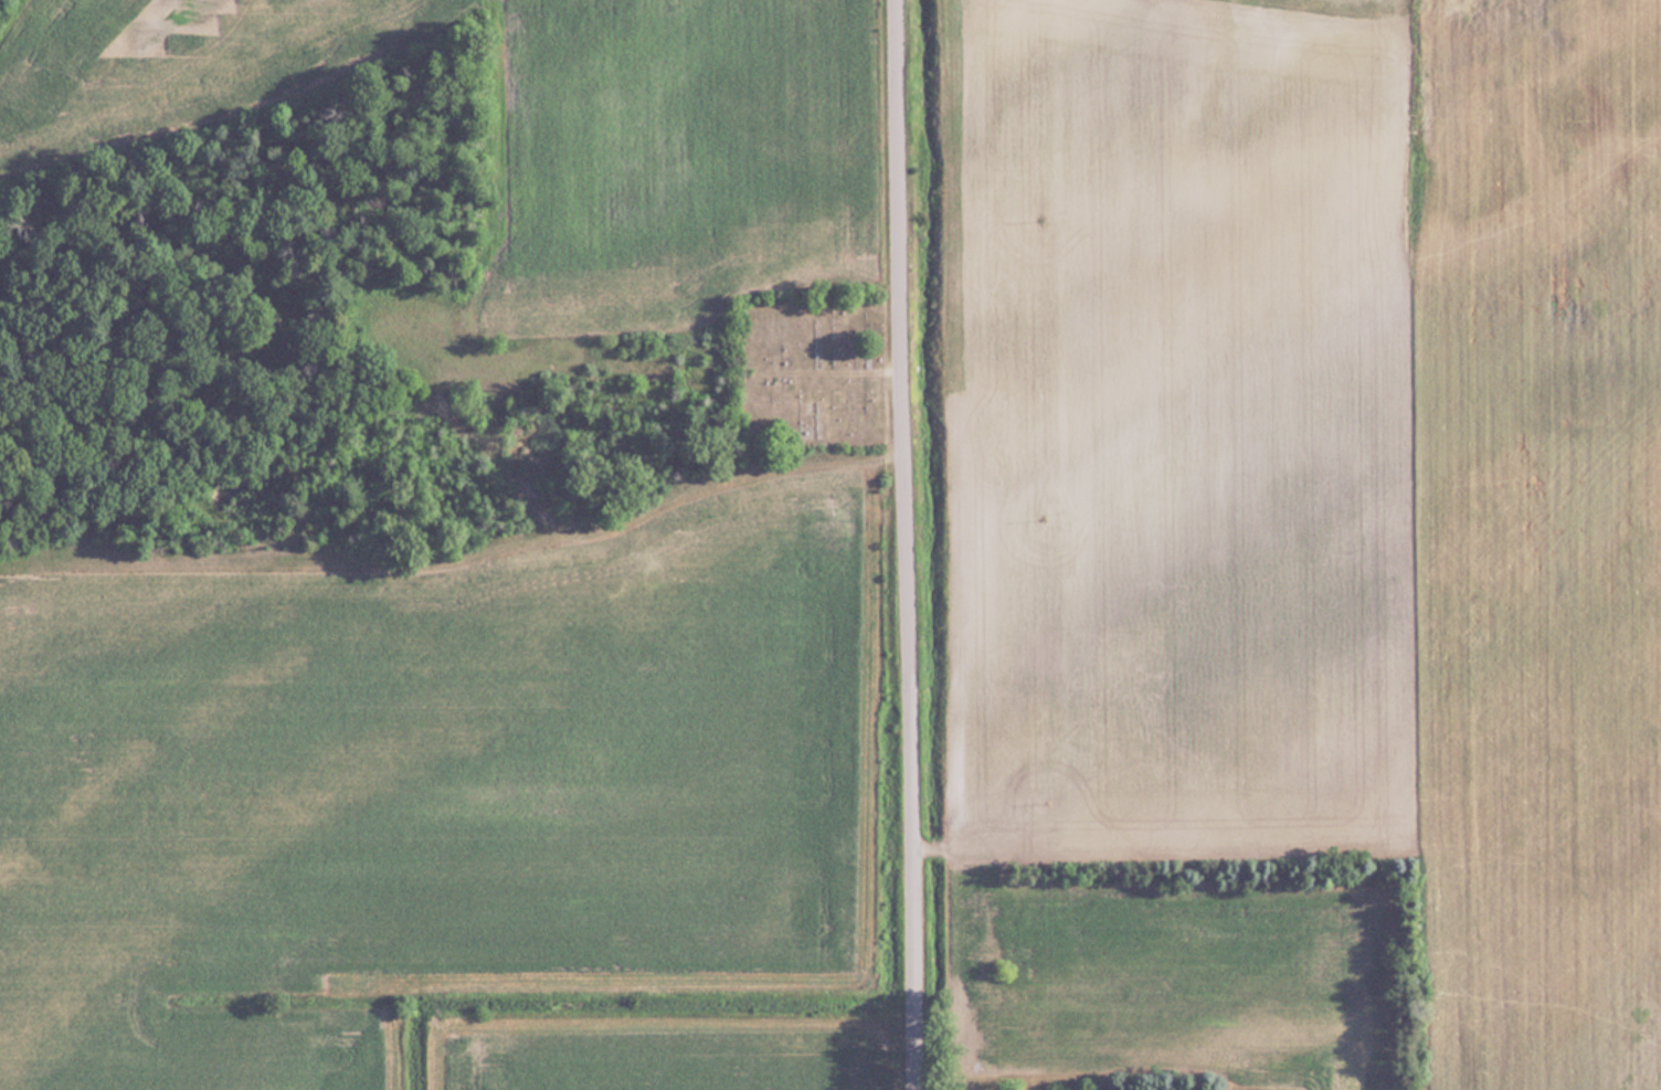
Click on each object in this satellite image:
park: (815, 371)
road: (907, 544)

